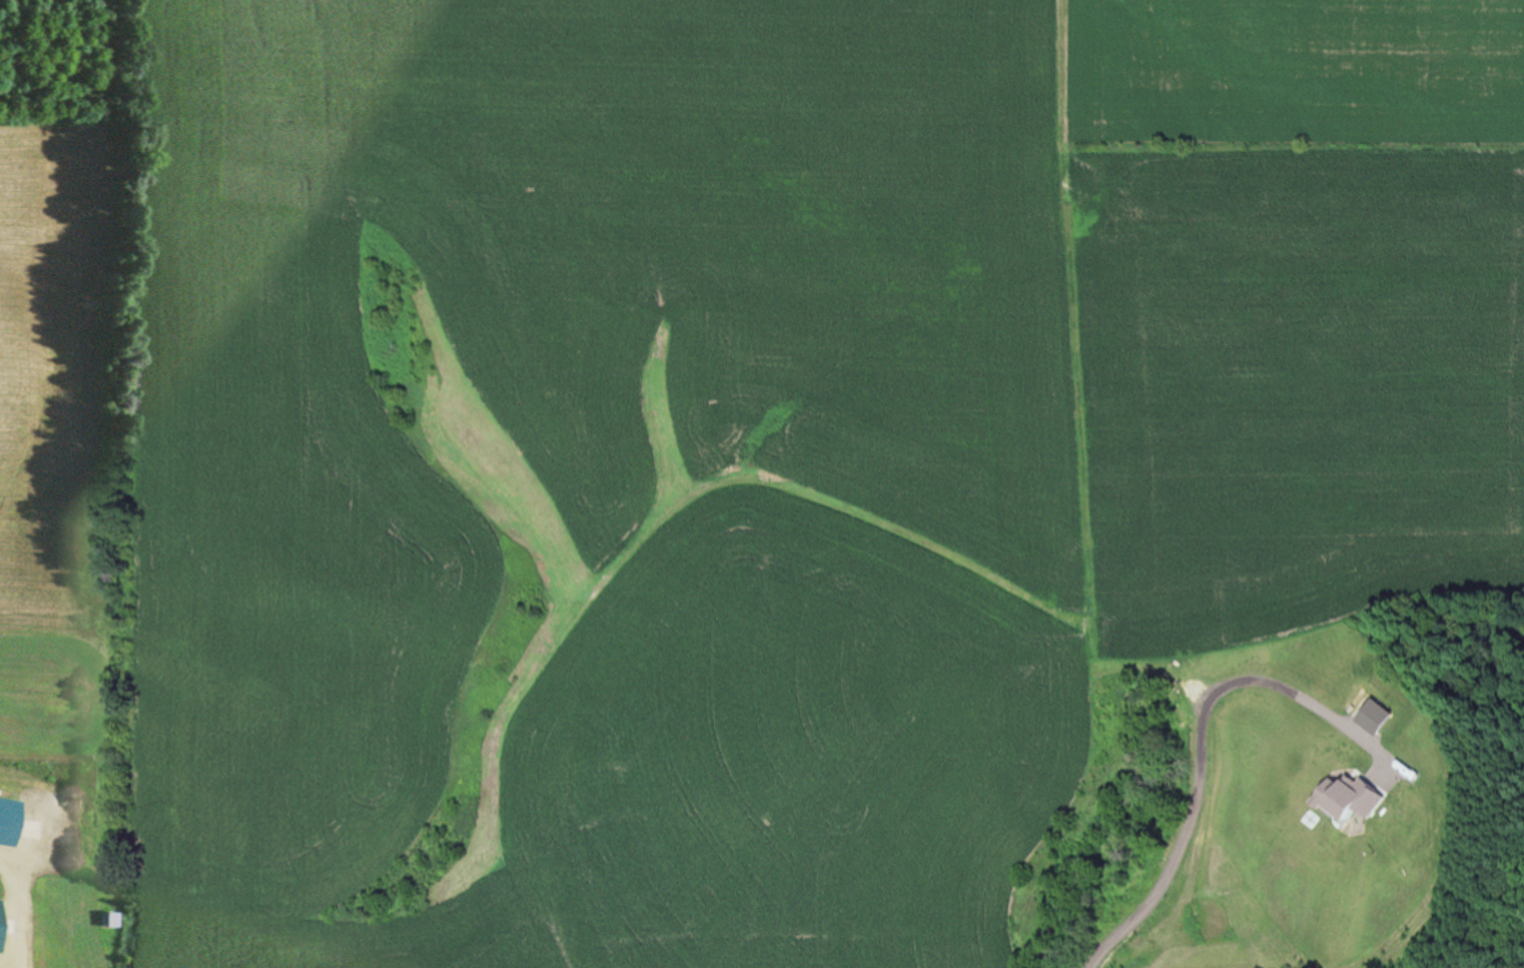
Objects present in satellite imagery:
road: (1201, 752)
road: (21, 908)
building: (113, 919)

